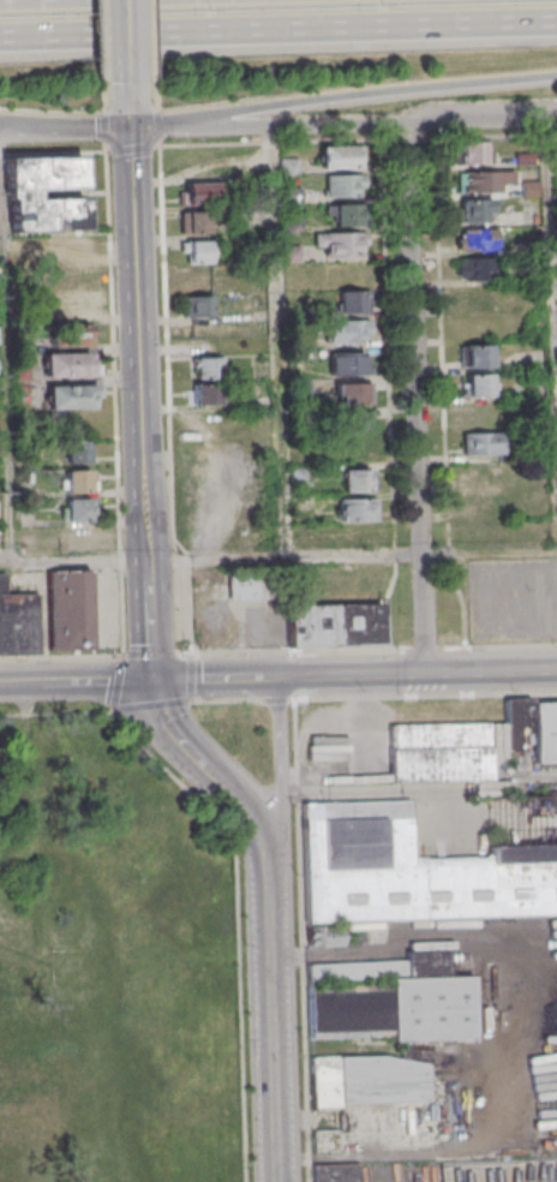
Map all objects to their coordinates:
road: (277, 31)
road: (128, 47)
road: (366, 98)
road: (130, 111)
road: (481, 119)
road: (44, 125)
road: (293, 126)
road: (109, 127)
traffic signals: (130, 127)
road: (154, 127)
road: (44, 130)
building: (471, 153)
building: (339, 156)
building: (288, 166)
building: (485, 181)
building: (343, 185)
building: (19, 192)
building: (200, 192)
building: (475, 209)
road: (552, 213)
building: (343, 214)
building: (193, 221)
building: (475, 239)
building: (340, 244)
building: (66, 249)
building: (196, 251)
building: (475, 269)
building: (197, 280)
building: (474, 298)
building: (352, 302)
building: (65, 306)
building: (197, 306)
building: (351, 330)
building: (67, 336)
road: (282, 341)
building: (477, 356)
building: (348, 363)
building: (68, 364)
building: (203, 366)
building: (477, 384)
building: (349, 392)
road: (6, 393)
building: (203, 395)
building: (71, 396)
road: (418, 400)
road: (146, 404)
building: (353, 422)
building: (484, 431)
building: (354, 448)
building: (77, 452)
building: (486, 472)
building: (355, 479)
building: (79, 480)
building: (77, 509)
building: (355, 521)
building: (78, 538)
road: (355, 554)
road: (77, 563)
road: (108, 599)
building: (72, 610)
building: (330, 626)
road: (415, 674)
road: (218, 680)
traffic signals: (162, 681)
road: (80, 682)
road: (427, 696)
building: (545, 732)
road: (280, 744)
road: (205, 752)
building: (439, 752)
road: (378, 792)
building: (407, 872)
building: (324, 937)
road: (304, 941)
road: (274, 995)
building: (388, 995)
road: (540, 1020)
building: (367, 1079)
building: (375, 1127)
building: (336, 1174)

